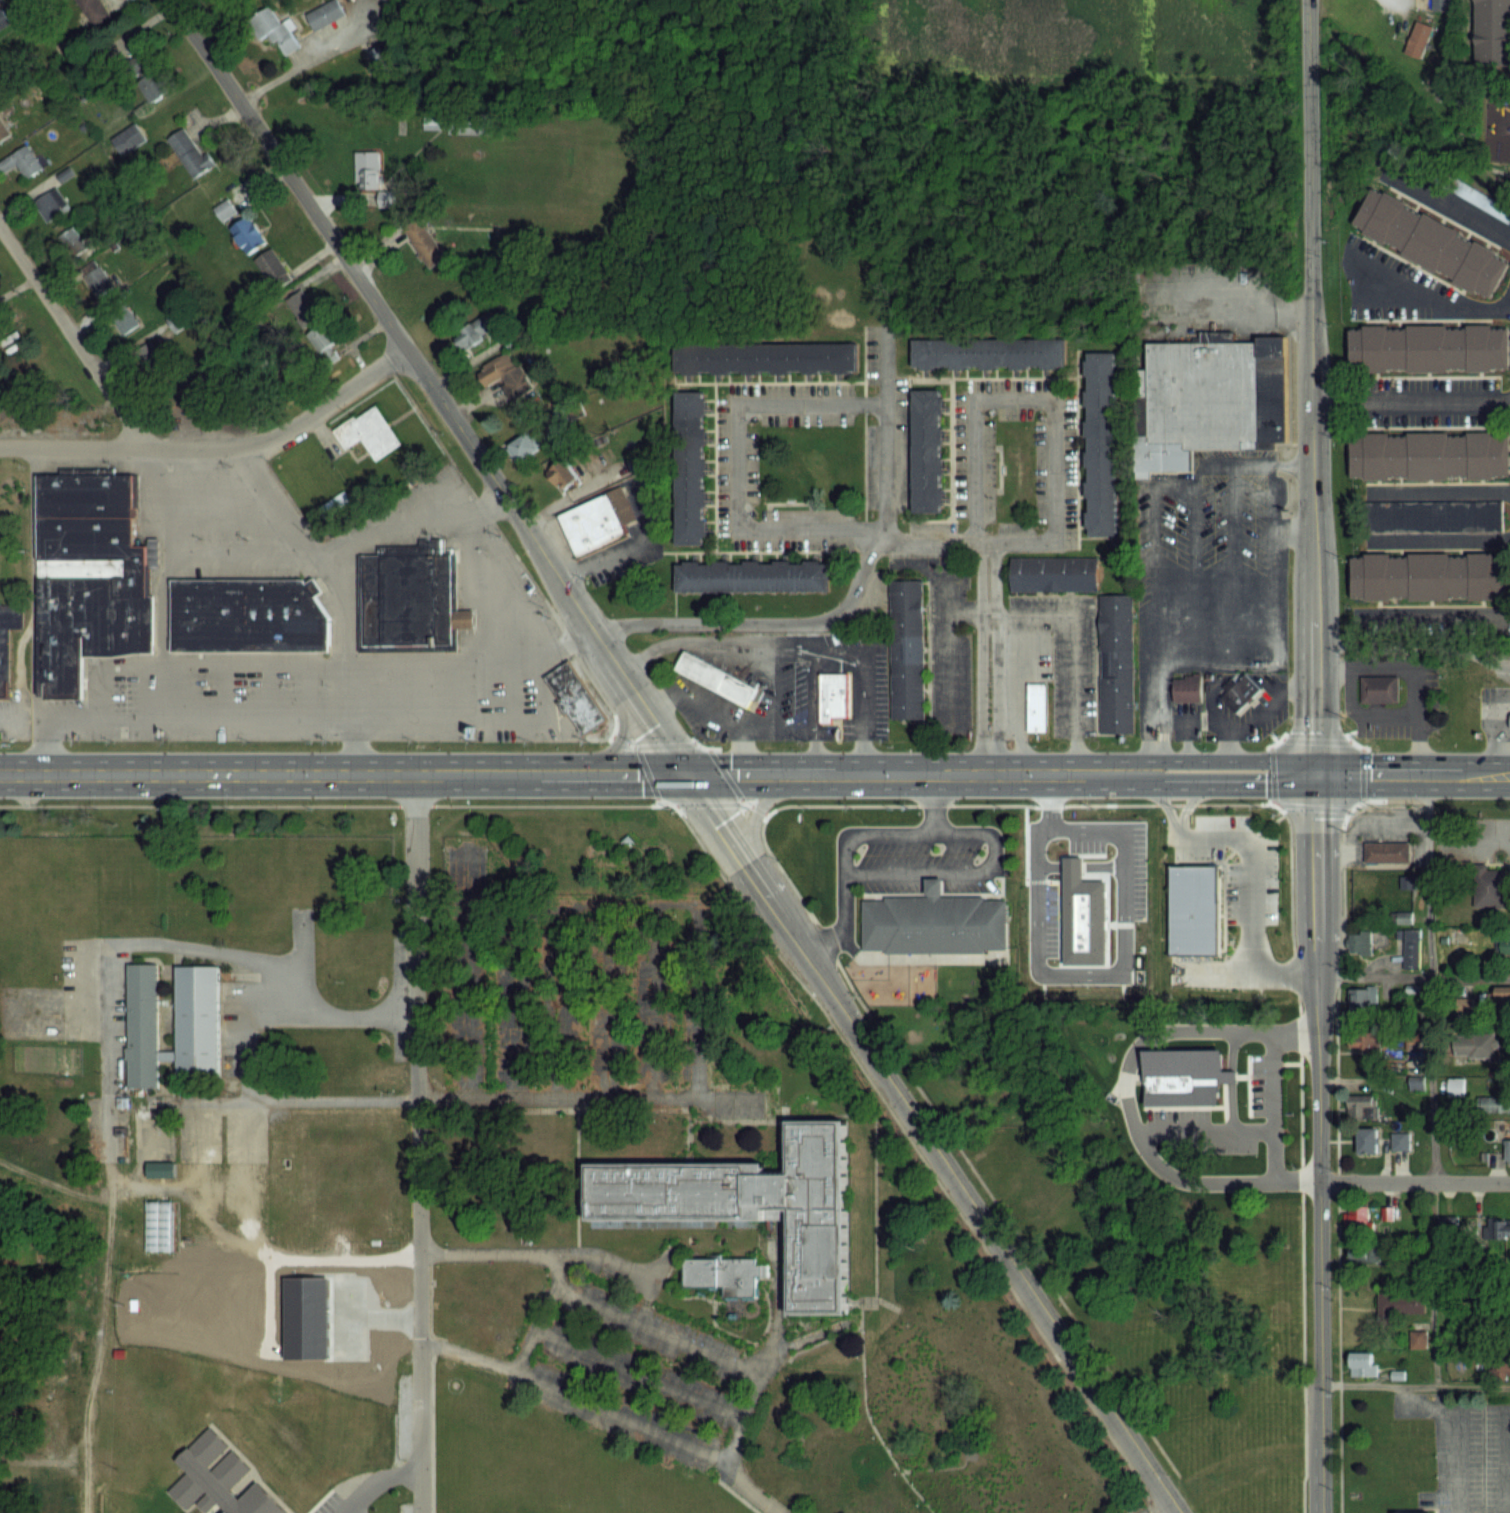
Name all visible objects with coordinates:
building: (1442, 5)
building: (90, 12)
building: (325, 15)
building: (3, 20)
building: (275, 30)
building: (1493, 32)
building: (1418, 40)
building: (381, 57)
road: (288, 73)
building: (155, 88)
building: (4, 130)
building: (191, 155)
building: (22, 163)
building: (372, 178)
road: (1310, 199)
building: (51, 205)
road: (1451, 208)
road: (325, 233)
building: (248, 236)
building: (1429, 241)
building: (425, 244)
building: (76, 245)
building: (273, 270)
building: (98, 281)
road: (1427, 294)
building: (302, 308)
road: (1247, 311)
building: (124, 321)
road: (73, 338)
building: (322, 339)
building: (1427, 348)
building: (987, 352)
building: (151, 357)
building: (765, 357)
building: (506, 376)
building: (1208, 398)
road: (1411, 399)
road: (286, 429)
building: (367, 432)
building: (1100, 443)
building: (527, 447)
road: (73, 448)
building: (924, 450)
building: (1427, 454)
road: (1292, 463)
building: (688, 467)
building: (563, 476)
road: (1442, 491)
road: (1273, 496)
road: (475, 507)
building: (1433, 515)
road: (1293, 521)
building: (596, 522)
road: (1293, 536)
road: (1440, 537)
road: (928, 538)
road: (984, 538)
road: (1154, 542)
road: (625, 546)
road: (1274, 556)
building: (1053, 573)
building: (1427, 576)
building: (87, 577)
building: (751, 577)
road: (161, 585)
road: (1214, 585)
road: (1313, 587)
road: (338, 596)
road: (848, 597)
building: (407, 598)
road: (986, 612)
road: (33, 614)
building: (247, 615)
road: (1439, 616)
road: (715, 640)
road: (945, 641)
building: (7, 642)
road: (559, 644)
road: (1412, 645)
building: (905, 648)
road: (835, 654)
road: (1073, 655)
building: (1115, 663)
road: (284, 665)
road: (1411, 674)
building: (715, 678)
building: (1186, 688)
building: (1377, 688)
building: (1239, 691)
building: (832, 695)
building: (573, 697)
road: (774, 700)
building: (1036, 707)
road: (716, 712)
road: (1358, 715)
building: (1509, 721)
road: (477, 722)
road: (1184, 724)
road: (793, 730)
road: (1163, 736)
road: (1495, 737)
road: (1144, 745)
road: (1225, 758)
road: (987, 775)
road: (1066, 775)
traffic signals: (1316, 775)
road: (1413, 775)
road: (897, 776)
road: (955, 776)
road: (431, 778)
traffic signals: (687, 778)
road: (1224, 786)
road: (932, 804)
road: (1186, 805)
road: (1165, 806)
road: (1058, 826)
road: (980, 832)
building: (1385, 851)
road: (853, 872)
building: (1487, 886)
road: (1250, 900)
building: (1194, 910)
building: (932, 922)
road: (843, 924)
building: (1360, 942)
building: (1505, 944)
road: (193, 948)
building: (1410, 949)
road: (1413, 977)
road: (827, 990)
building: (1363, 1000)
building: (196, 1008)
building: (1462, 1008)
building: (1367, 1041)
building: (1473, 1046)
building: (1183, 1077)
road: (1431, 1080)
building: (1455, 1087)
road: (584, 1097)
road: (1124, 1097)
building: (1494, 1104)
road: (1270, 1106)
building: (1362, 1107)
road: (1202, 1131)
building: (1367, 1140)
building: (1400, 1141)
road: (1317, 1143)
road: (418, 1145)
building: (1506, 1151)
building: (160, 1169)
road: (1414, 1181)
building: (748, 1204)
building: (1387, 1213)
building: (1358, 1218)
building: (1448, 1224)
building: (1498, 1227)
road: (533, 1253)
building: (1364, 1254)
road: (554, 1269)
building: (724, 1274)
building: (1401, 1303)
road: (654, 1326)
building: (1363, 1363)
building: (1498, 1368)
road: (1414, 1385)
road: (605, 1415)
road: (1452, 1434)
building: (217, 1478)
road: (378, 1482)
road: (1161, 1508)
building: (1411, 1510)

